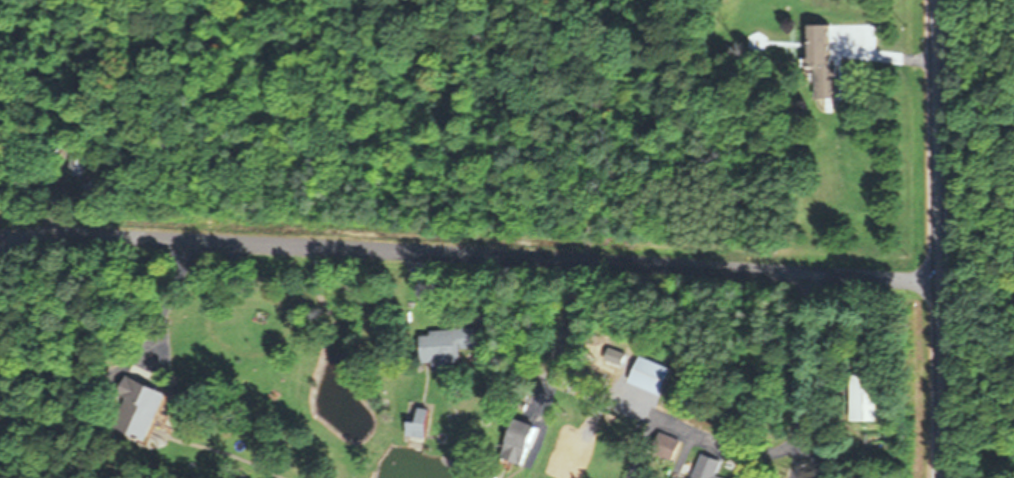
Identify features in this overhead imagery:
building: (825, 59)
road: (938, 238)
road: (465, 255)
building: (449, 347)
building: (652, 376)
building: (868, 398)
building: (140, 407)
road: (793, 432)
building: (524, 443)
building: (708, 467)

